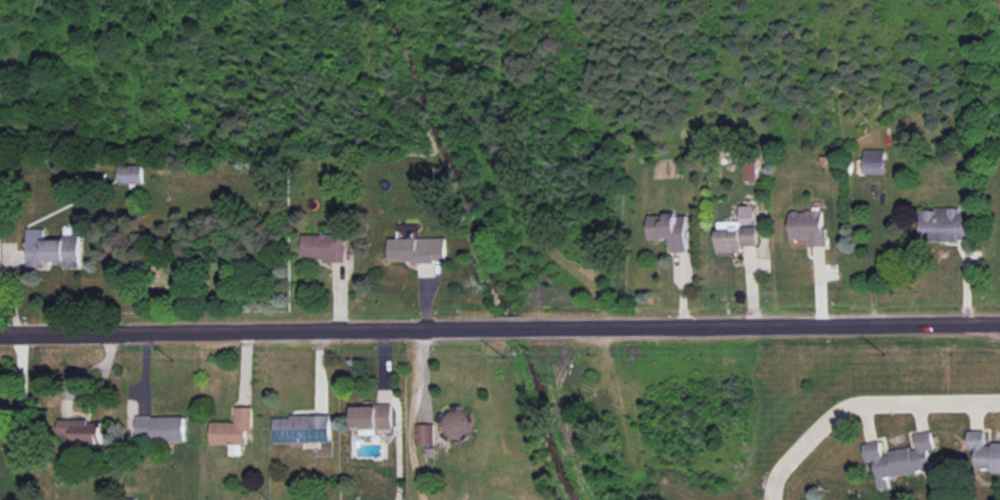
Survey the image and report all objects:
crop: (778, 56)
building: (872, 162)
building: (132, 175)
building: (737, 220)
building: (936, 223)
building: (801, 226)
building: (664, 227)
building: (310, 243)
building: (45, 245)
building: (412, 247)
road: (499, 329)
road: (860, 403)
building: (365, 417)
building: (0, 418)
building: (451, 420)
building: (228, 426)
building: (296, 426)
building: (153, 427)
building: (420, 431)
building: (72, 434)
building: (20, 448)
building: (913, 448)
building: (978, 448)
building: (999, 454)
building: (877, 457)
building: (809, 498)
building: (831, 498)
building: (737, 499)

